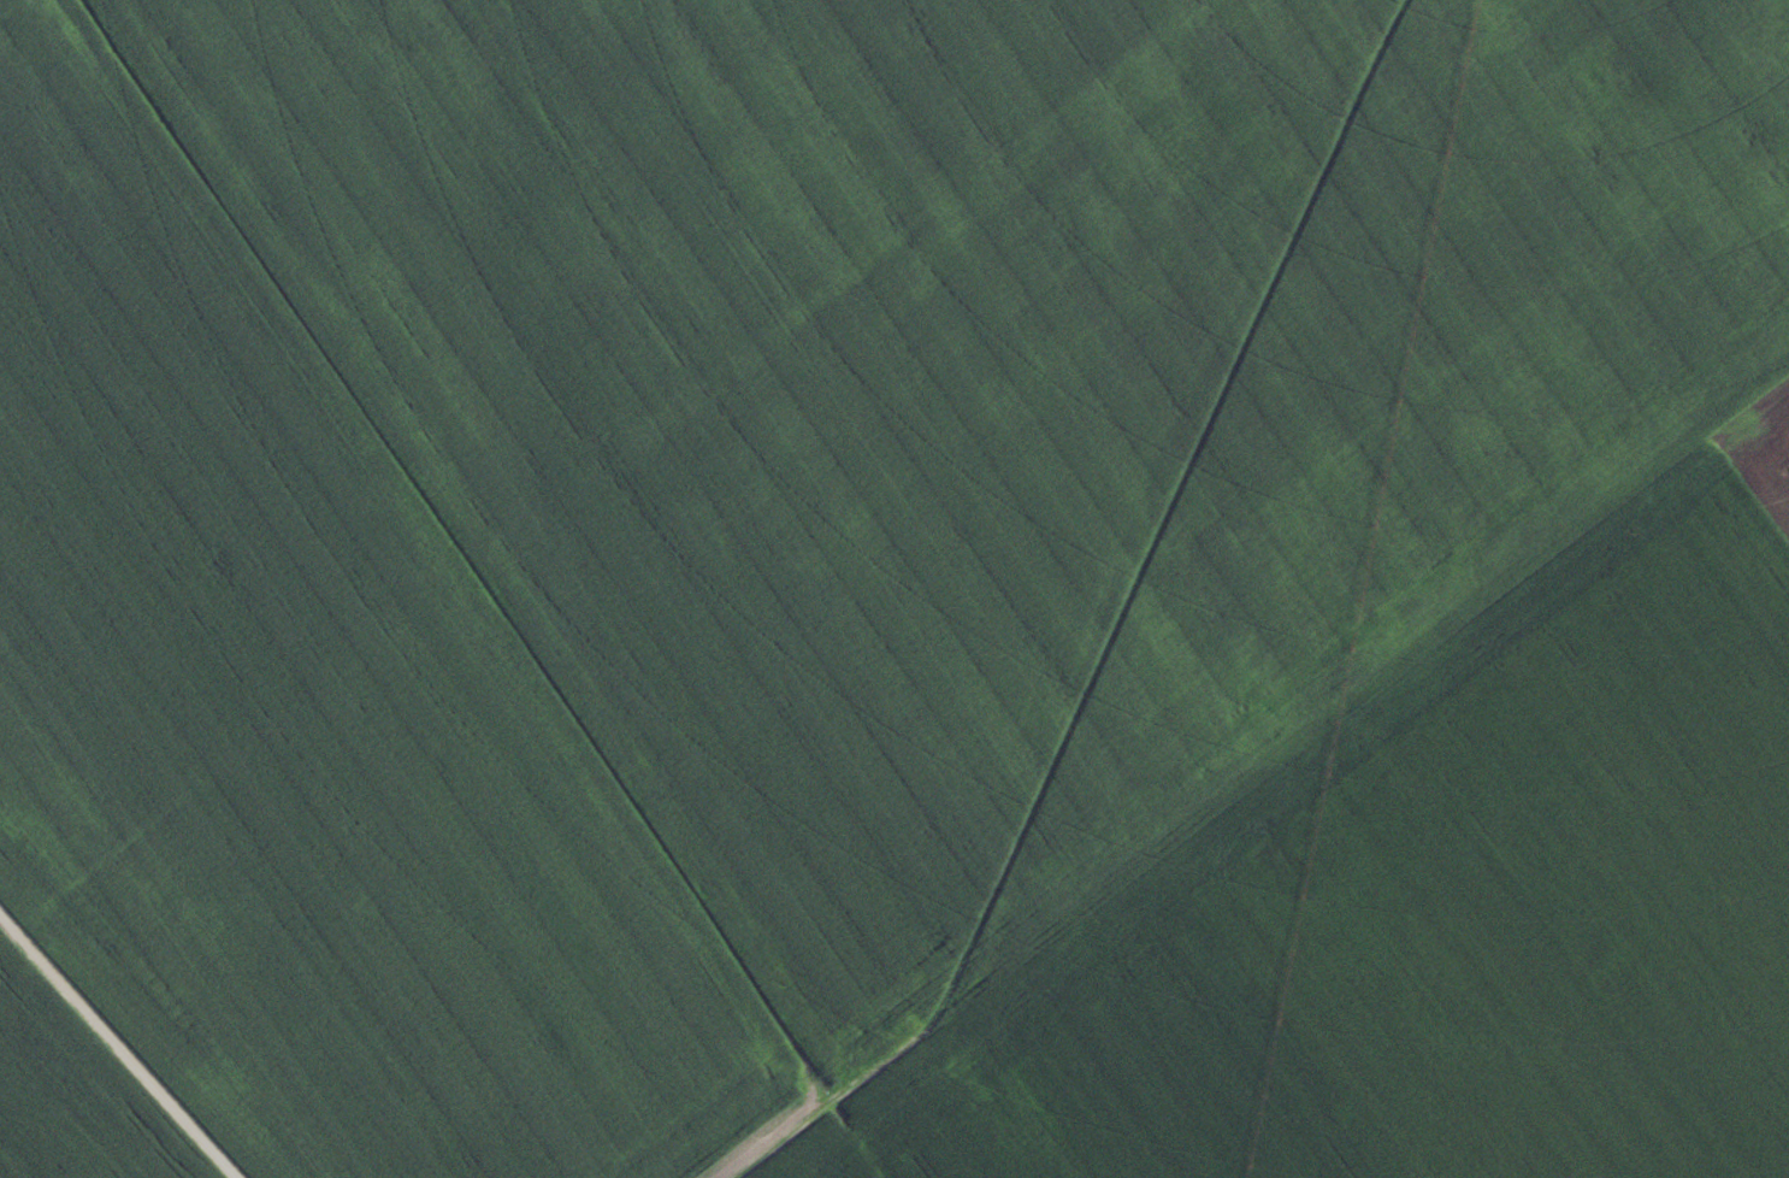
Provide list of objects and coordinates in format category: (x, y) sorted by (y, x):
road: (122, 1042)

